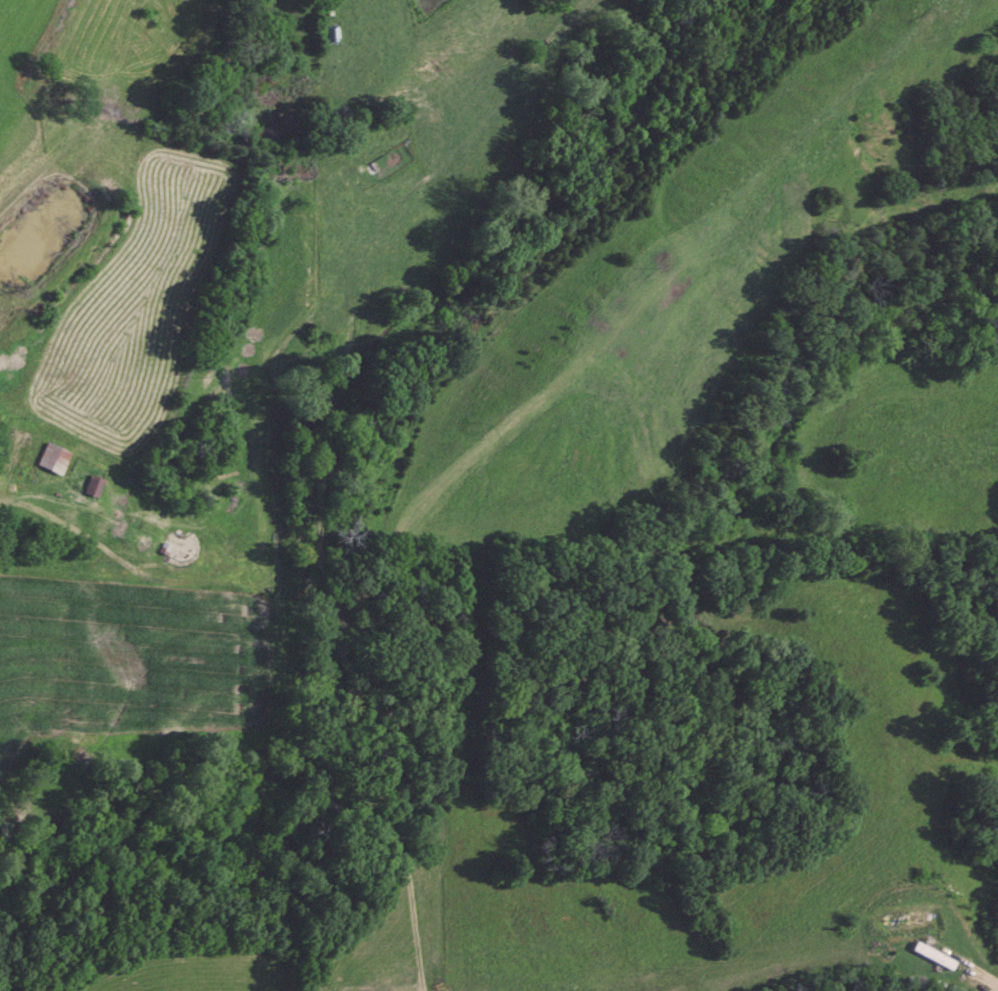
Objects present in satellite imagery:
building: (7, 451)
building: (55, 460)
building: (94, 487)
building: (933, 956)

